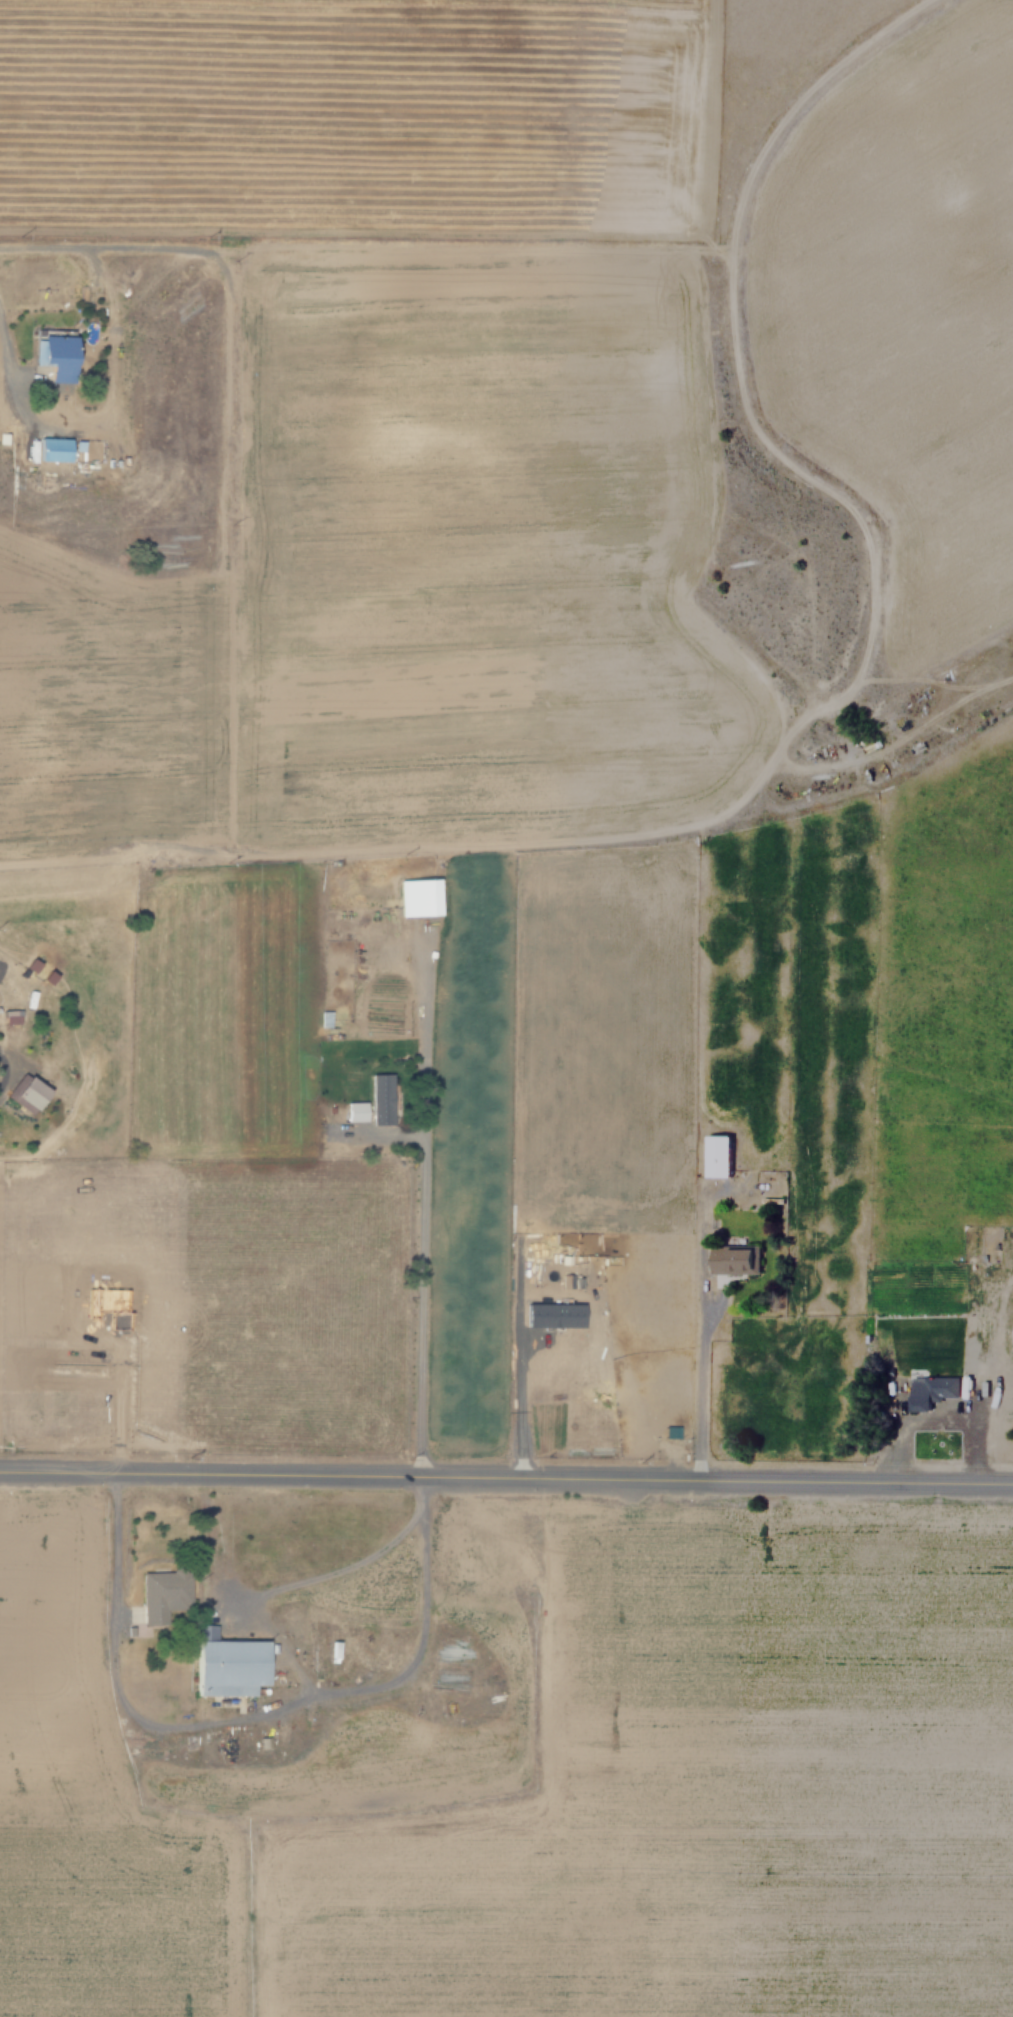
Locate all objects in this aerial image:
crop: (342, 109)
building: (53, 353)
road: (16, 383)
building: (52, 449)
building: (416, 898)
building: (9, 1016)
road: (1, 1071)
building: (24, 1093)
building: (380, 1098)
building: (355, 1111)
building: (716, 1156)
road: (422, 1204)
building: (734, 1258)
building: (551, 1315)
building: (1012, 1335)
road: (701, 1390)
building: (930, 1391)
road: (506, 1480)
road: (333, 1575)
building: (160, 1595)
building: (226, 1666)
road: (245, 1721)
crop: (504, 1762)

